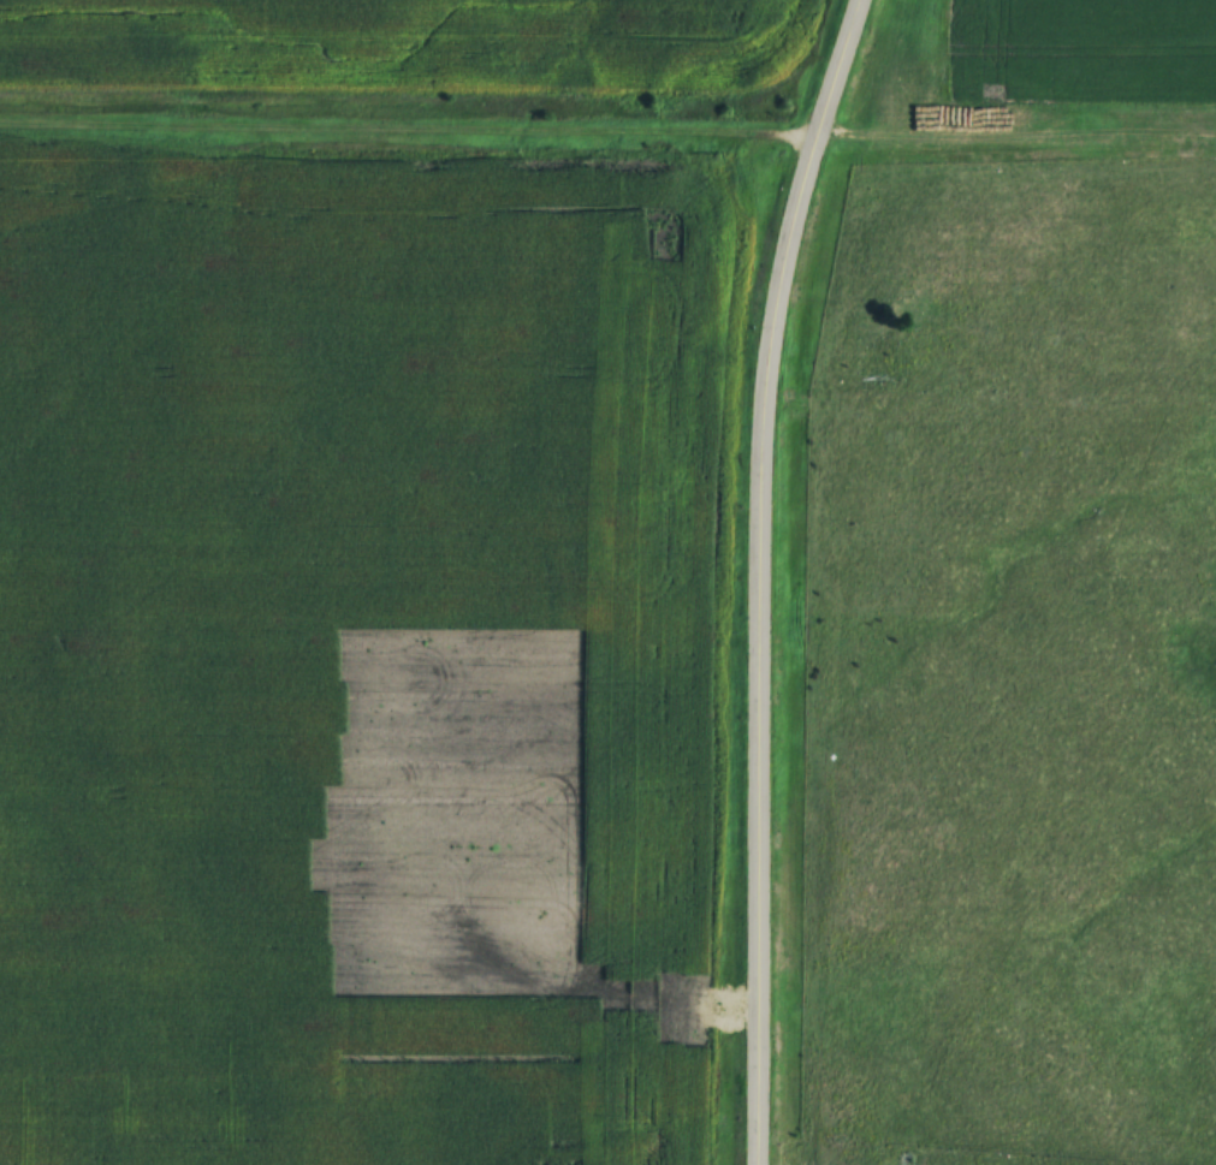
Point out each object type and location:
road: (759, 576)

